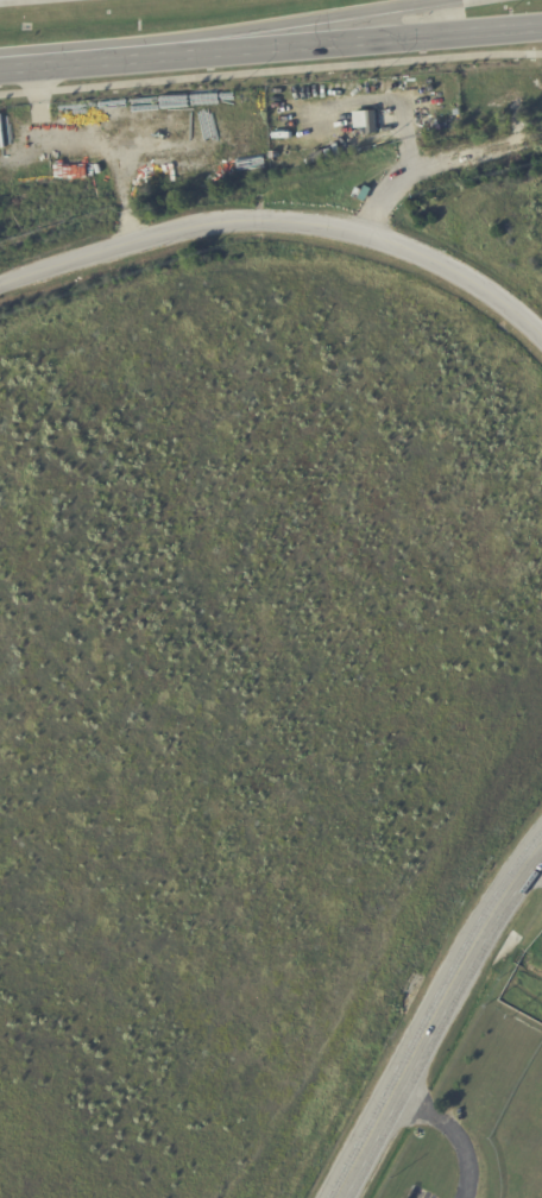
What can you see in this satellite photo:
road: (277, 25)
road: (326, 39)
road: (56, 62)
road: (270, 70)
building: (380, 101)
road: (439, 163)
road: (182, 227)
road: (464, 276)
road: (536, 858)
road: (434, 1016)
road: (453, 1130)

